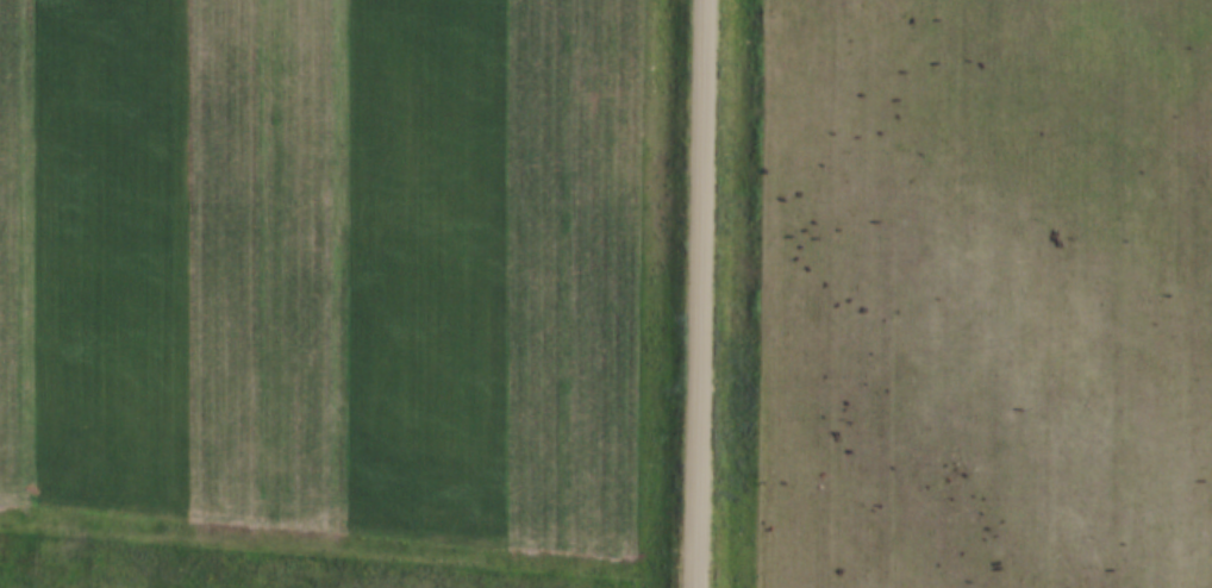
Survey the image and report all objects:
road: (702, 293)

